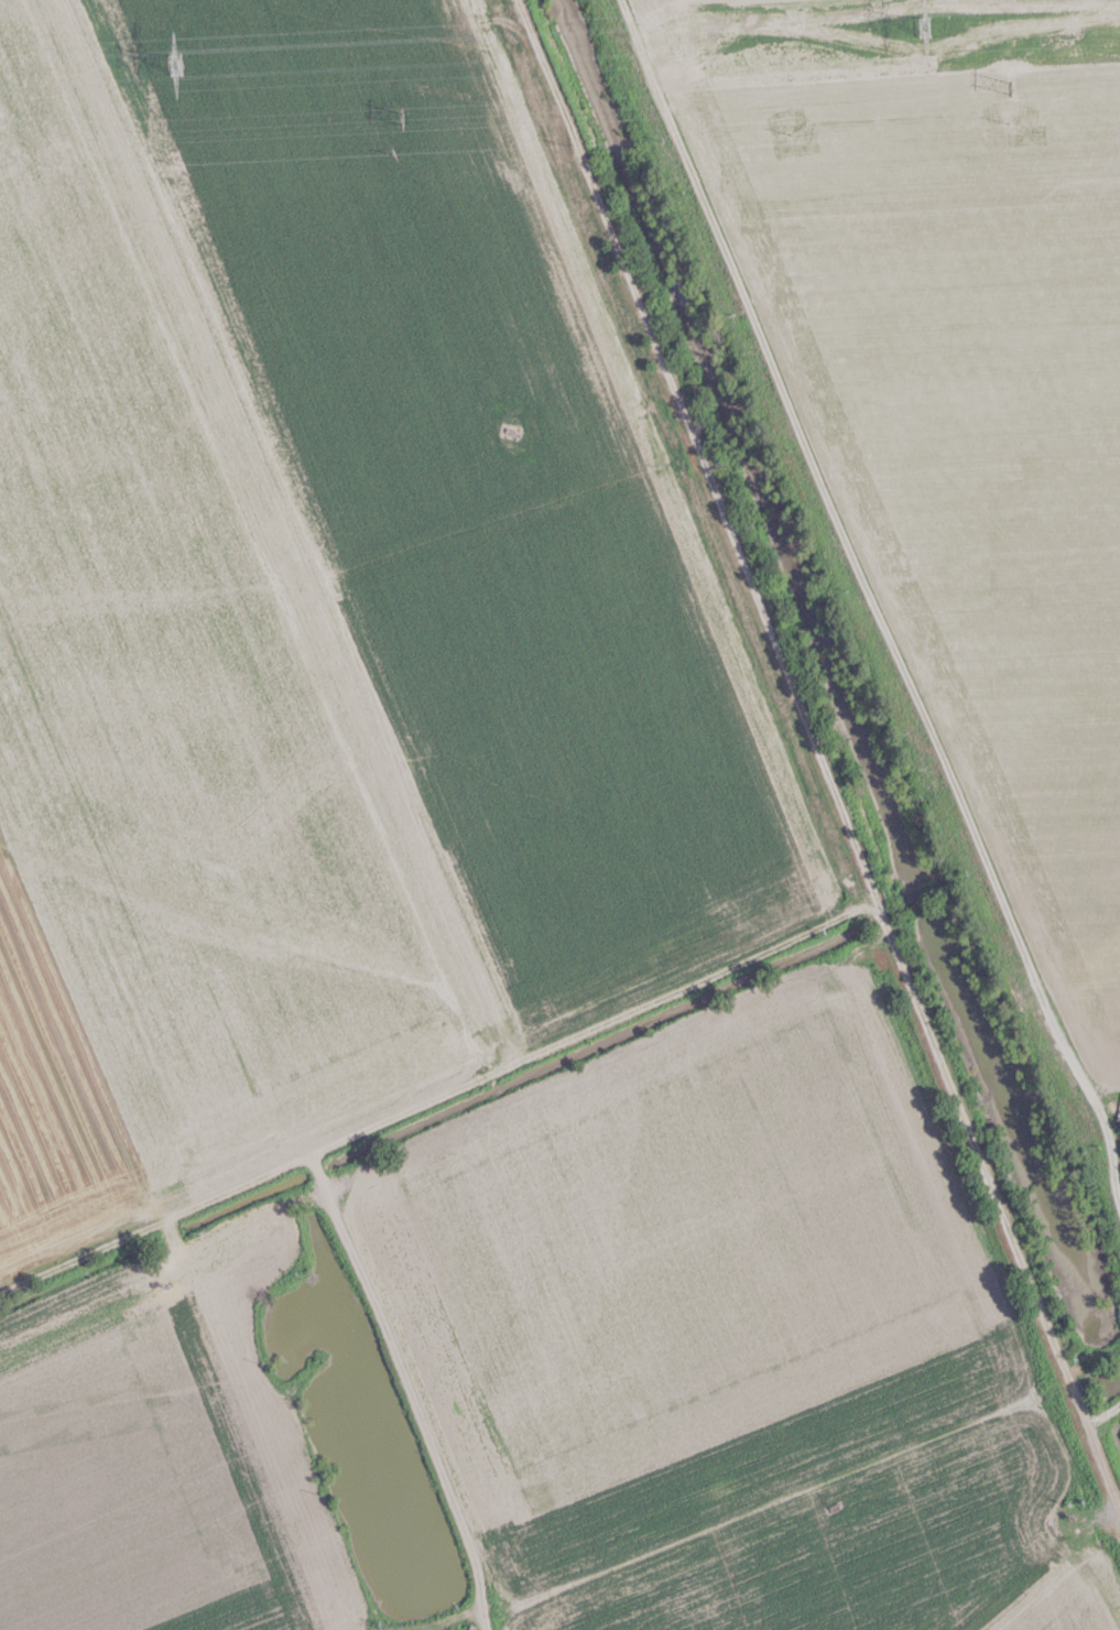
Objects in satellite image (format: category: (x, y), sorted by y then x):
power tower: (923, 25)
power tower: (172, 63)
power tower: (1003, 86)
power tower: (405, 119)

